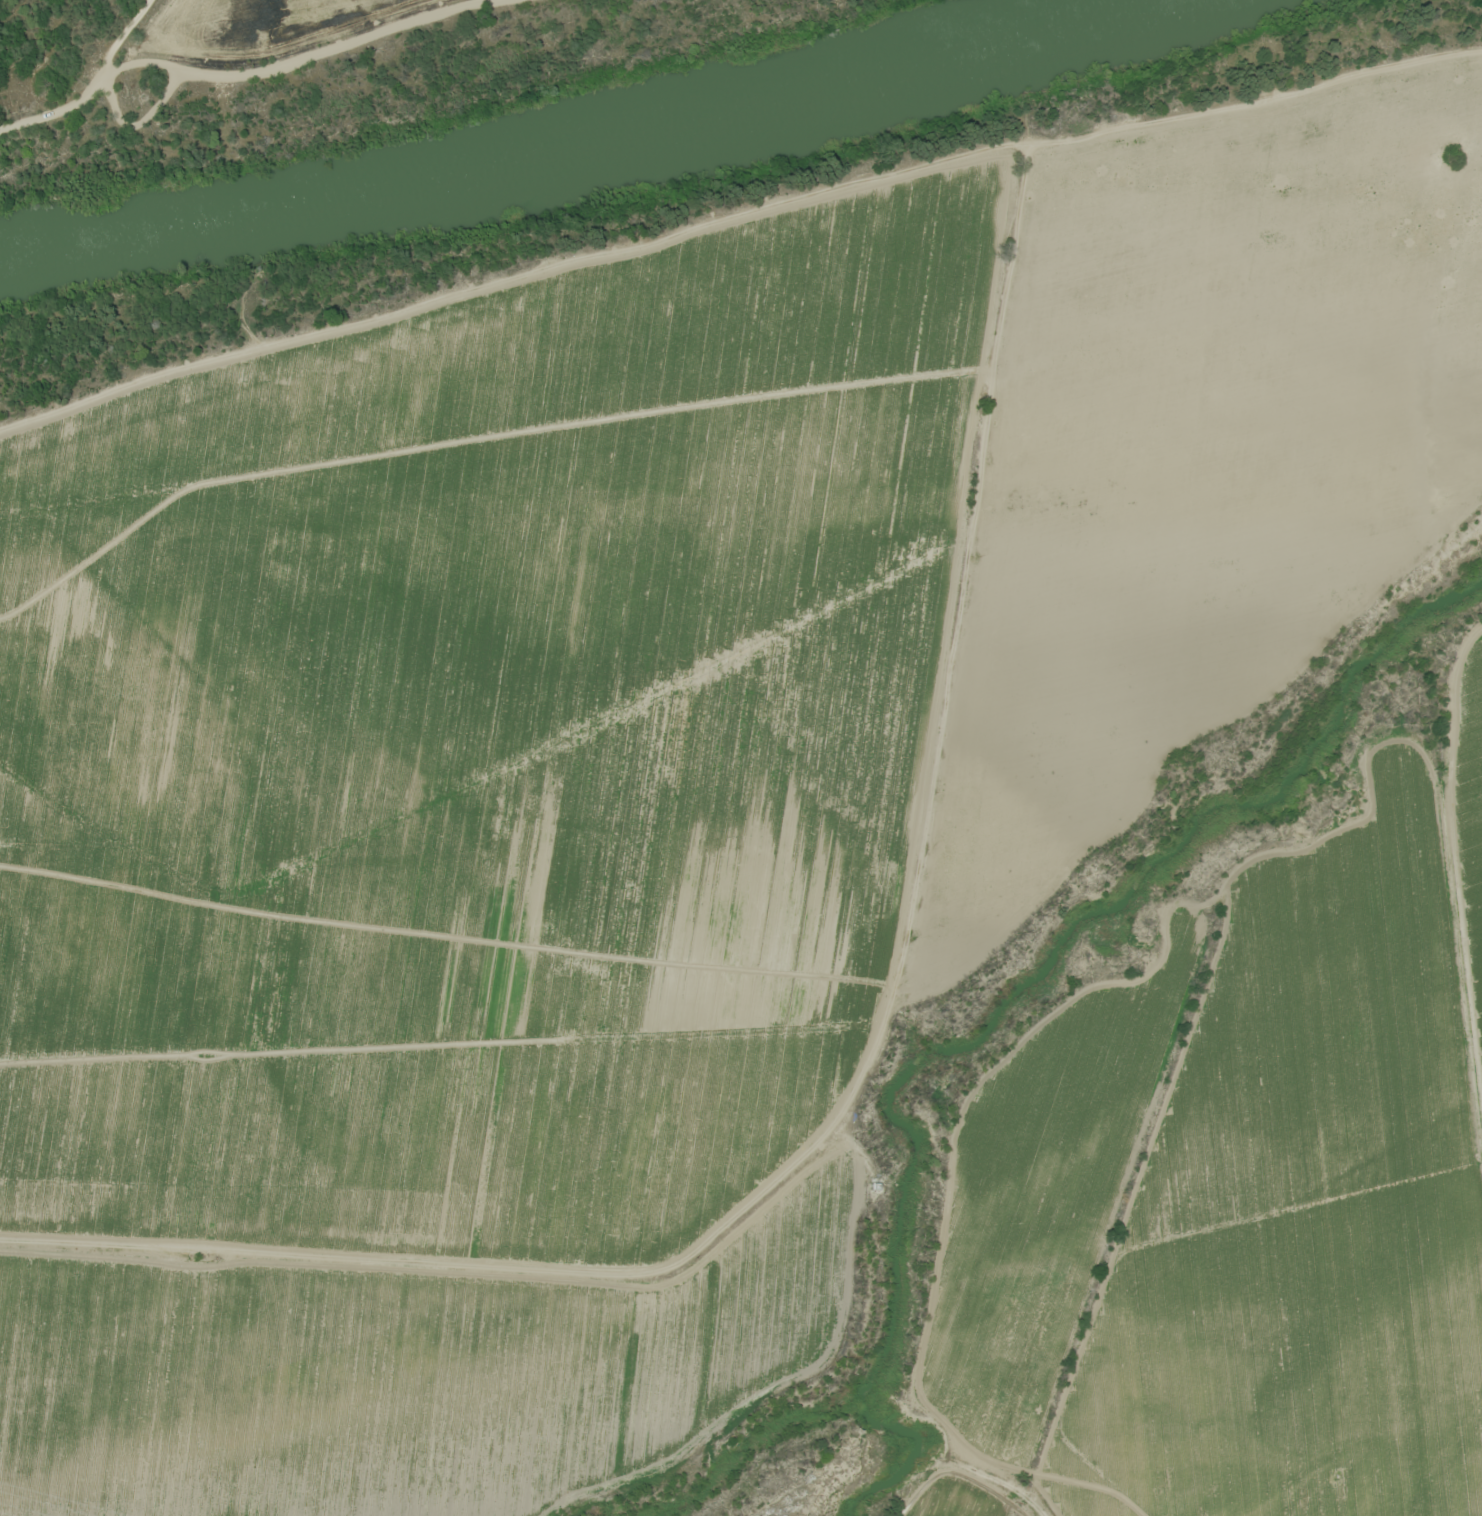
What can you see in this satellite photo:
river: (571, 146)
river: (1367, 669)

